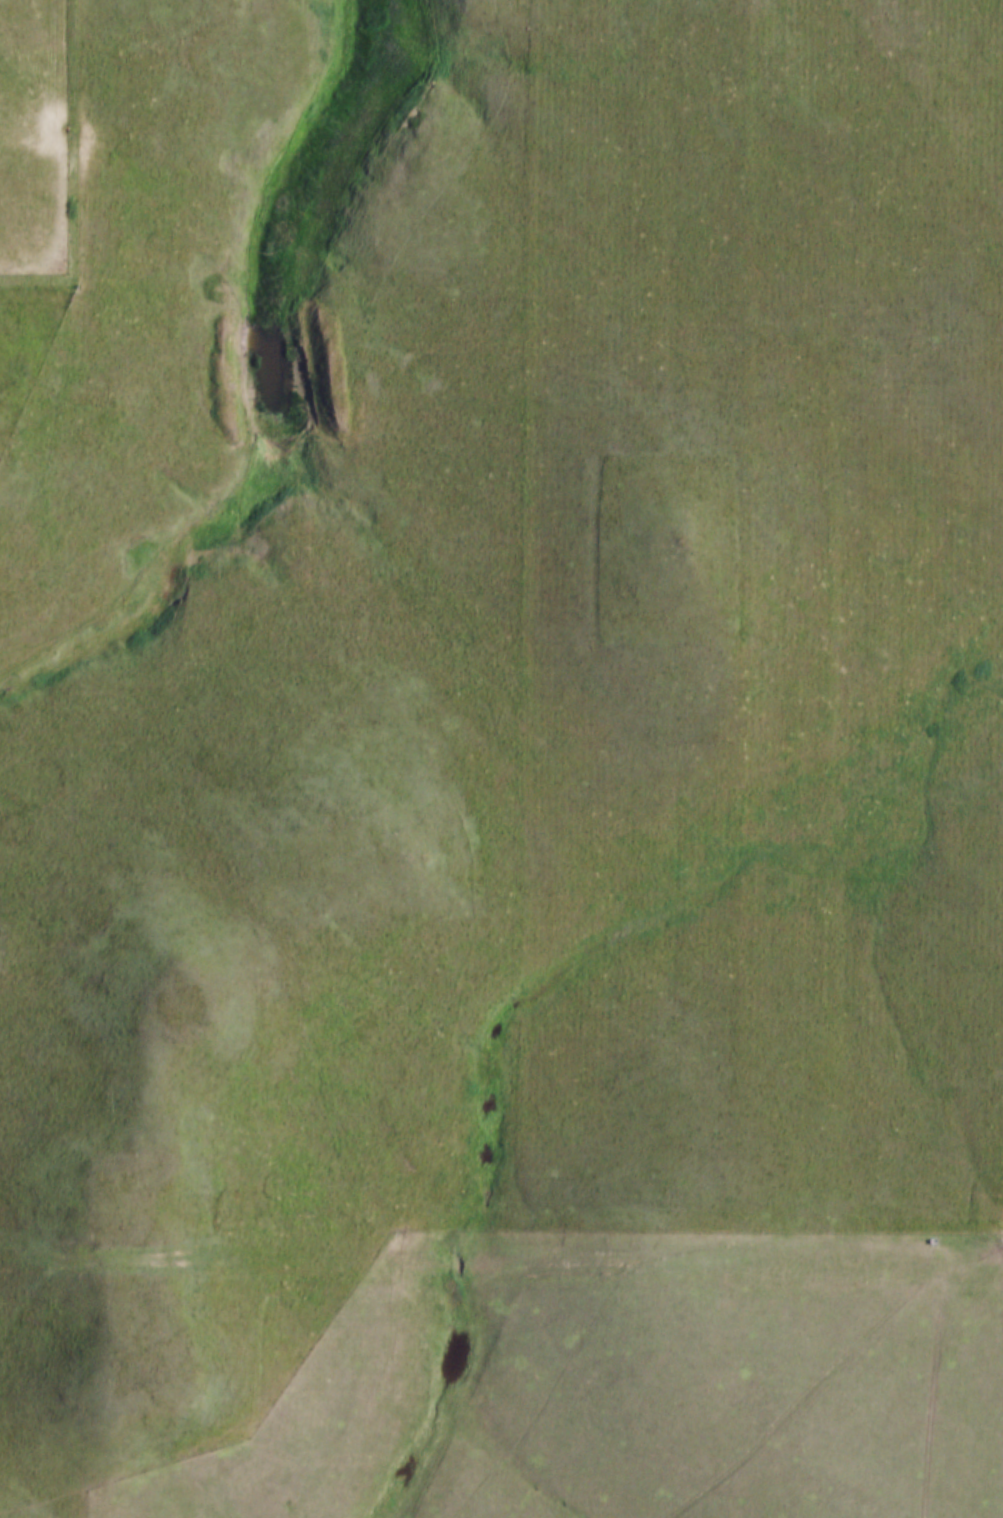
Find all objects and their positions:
road: (975, 1260)
road: (821, 1398)

